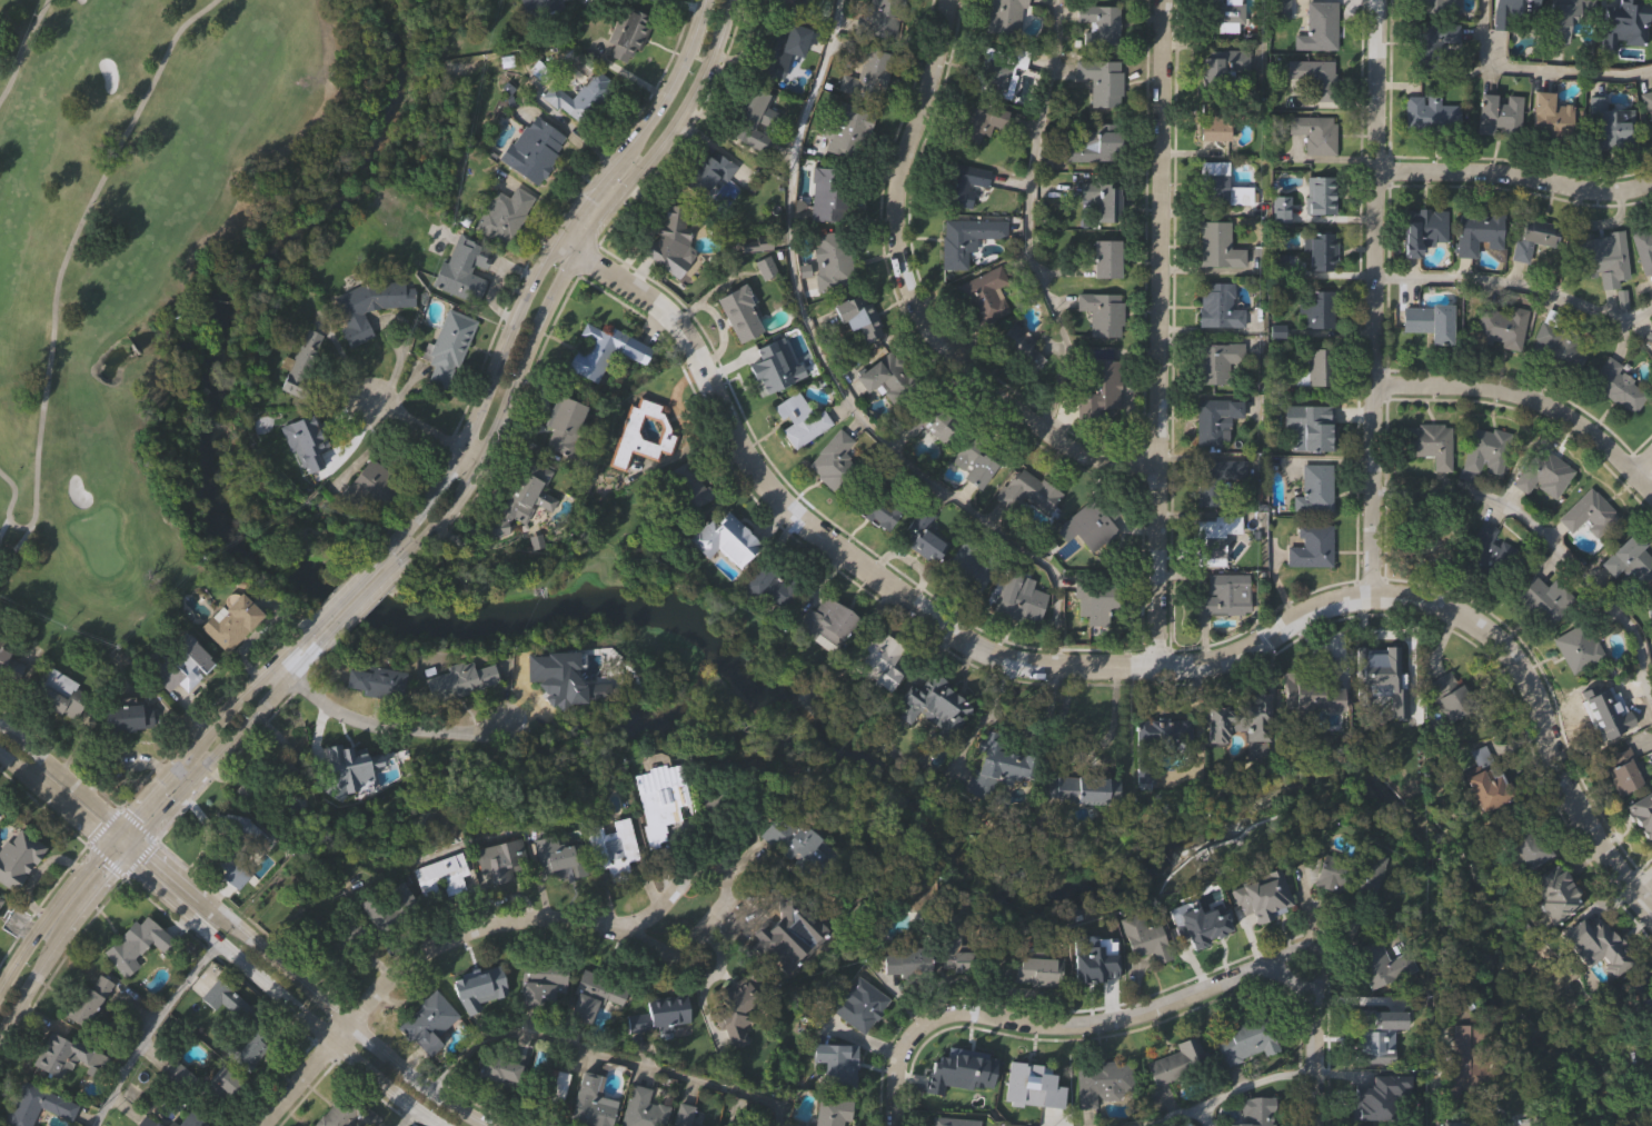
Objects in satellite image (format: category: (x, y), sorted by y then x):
building: (785, 2)
building: (545, 3)
building: (1437, 6)
building: (1511, 12)
building: (1221, 14)
building: (1004, 17)
building: (1621, 19)
building: (883, 20)
building: (1561, 20)
building: (1098, 22)
building: (1318, 26)
building: (625, 32)
building: (1432, 42)
building: (774, 48)
road: (23, 52)
building: (998, 69)
road: (1534, 69)
building: (867, 72)
building: (1313, 74)
building: (1102, 81)
building: (1216, 89)
building: (578, 96)
building: (1648, 103)
building: (1431, 110)
building: (1497, 112)
building: (1550, 114)
building: (750, 118)
building: (976, 122)
building: (1609, 123)
building: (847, 130)
building: (1314, 131)
building: (1095, 145)
building: (531, 148)
building: (706, 170)
road: (1513, 171)
building: (959, 182)
building: (1220, 183)
building: (828, 193)
building: (1320, 193)
building: (1104, 197)
building: (501, 213)
road: (1027, 219)
building: (1421, 228)
building: (1476, 230)
building: (1532, 236)
building: (965, 238)
building: (670, 241)
building: (1216, 243)
building: (1643, 247)
building: (1322, 249)
building: (1105, 257)
building: (1602, 257)
building: (833, 259)
park: (167, 262)
building: (458, 275)
road: (59, 282)
road: (1517, 285)
road: (526, 288)
building: (984, 295)
road: (555, 297)
road: (915, 299)
road: (1371, 299)
building: (368, 303)
building: (1216, 305)
building: (1320, 308)
building: (737, 312)
building: (1104, 313)
building: (858, 316)
building: (1427, 320)
building: (1497, 326)
road: (1161, 331)
building: (1650, 335)
building: (1559, 343)
building: (447, 347)
building: (600, 349)
building: (1018, 349)
building: (115, 358)
building: (1216, 360)
building: (300, 363)
building: (766, 366)
building: (1318, 366)
road: (830, 372)
building: (885, 378)
building: (1618, 385)
building: (1101, 386)
road: (1526, 399)
building: (1212, 418)
building: (799, 419)
building: (931, 419)
building: (1312, 421)
building: (561, 425)
road: (420, 427)
building: (308, 442)
building: (1430, 442)
building: (626, 446)
building: (1485, 450)
building: (972, 458)
building: (834, 461)
road: (1641, 462)
building: (1543, 472)
building: (1212, 479)
building: (687, 484)
building: (369, 487)
building: (1314, 488)
building: (1027, 490)
building: (519, 495)
building: (876, 509)
building: (1589, 512)
building: (1089, 526)
building: (920, 534)
building: (1215, 535)
building: (723, 539)
road: (1547, 540)
building: (1311, 546)
building: (1430, 549)
building: (1485, 550)
building: (1628, 558)
building: (957, 568)
building: (768, 586)
building: (1225, 595)
building: (1019, 596)
road: (336, 599)
building: (1091, 599)
building: (1544, 599)
building: (1649, 611)
road: (357, 614)
building: (230, 622)
building: (827, 622)
building: (0, 645)
building: (1578, 648)
building: (874, 656)
road: (1106, 664)
building: (182, 668)
building: (551, 674)
building: (1384, 677)
building: (370, 681)
building: (452, 682)
building: (58, 695)
building: (1324, 697)
building: (1454, 699)
building: (929, 704)
building: (1614, 714)
building: (126, 718)
building: (1242, 721)
road: (377, 723)
building: (1157, 740)
building: (1001, 765)
road: (58, 773)
building: (1623, 777)
building: (357, 778)
building: (1484, 780)
building: (1077, 788)
road: (147, 789)
road: (50, 795)
building: (659, 799)
building: (1642, 814)
road: (155, 820)
building: (790, 838)
road: (137, 841)
building: (1520, 843)
building: (610, 844)
building: (226, 846)
building: (17, 855)
building: (550, 855)
road: (120, 858)
building: (499, 861)
building: (1350, 875)
road: (1641, 876)
building: (439, 877)
road: (720, 880)
building: (1552, 894)
building: (0, 897)
building: (0, 900)
building: (1237, 904)
building: (1178, 924)
building: (1146, 940)
road: (464, 944)
building: (129, 946)
building: (1595, 947)
building: (959, 956)
building: (1093, 960)
building: (905, 961)
building: (1380, 964)
building: (1035, 967)
building: (539, 984)
building: (480, 990)
building: (594, 996)
road: (320, 997)
building: (86, 1000)
road: (288, 1002)
building: (856, 1003)
building: (1641, 1005)
building: (733, 1010)
building: (656, 1015)
road: (1128, 1020)
building: (427, 1022)
road: (150, 1028)
building: (1380, 1036)
building: (1240, 1039)
building: (247, 1048)
building: (63, 1054)
road: (607, 1056)
building: (1176, 1060)
building: (1460, 1062)
building: (834, 1063)
building: (1646, 1063)
building: (495, 1068)
building: (953, 1074)
building: (222, 1079)
road: (292, 1082)
building: (1101, 1082)
building: (547, 1085)
building: (1034, 1085)
road: (1254, 1086)
building: (1366, 1099)
building: (590, 1102)
building: (33, 1105)
building: (661, 1109)
building: (829, 1112)
building: (1255, 1112)
road: (1167, 1117)
road: (1205, 1117)
building: (1649, 1118)
road: (407, 1119)
building: (953, 1120)
building: (1453, 1124)
building: (167, 1125)
building: (726, 1125)

